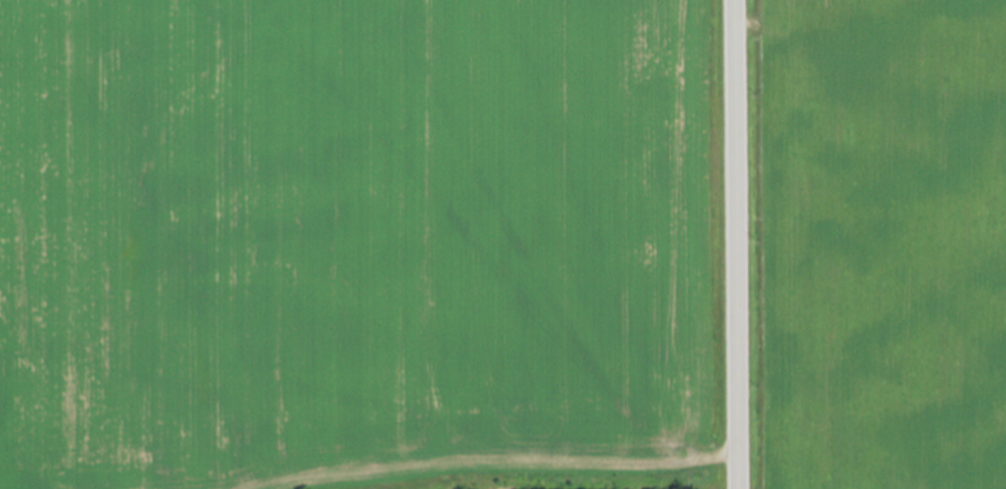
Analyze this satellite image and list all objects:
road: (737, 244)

